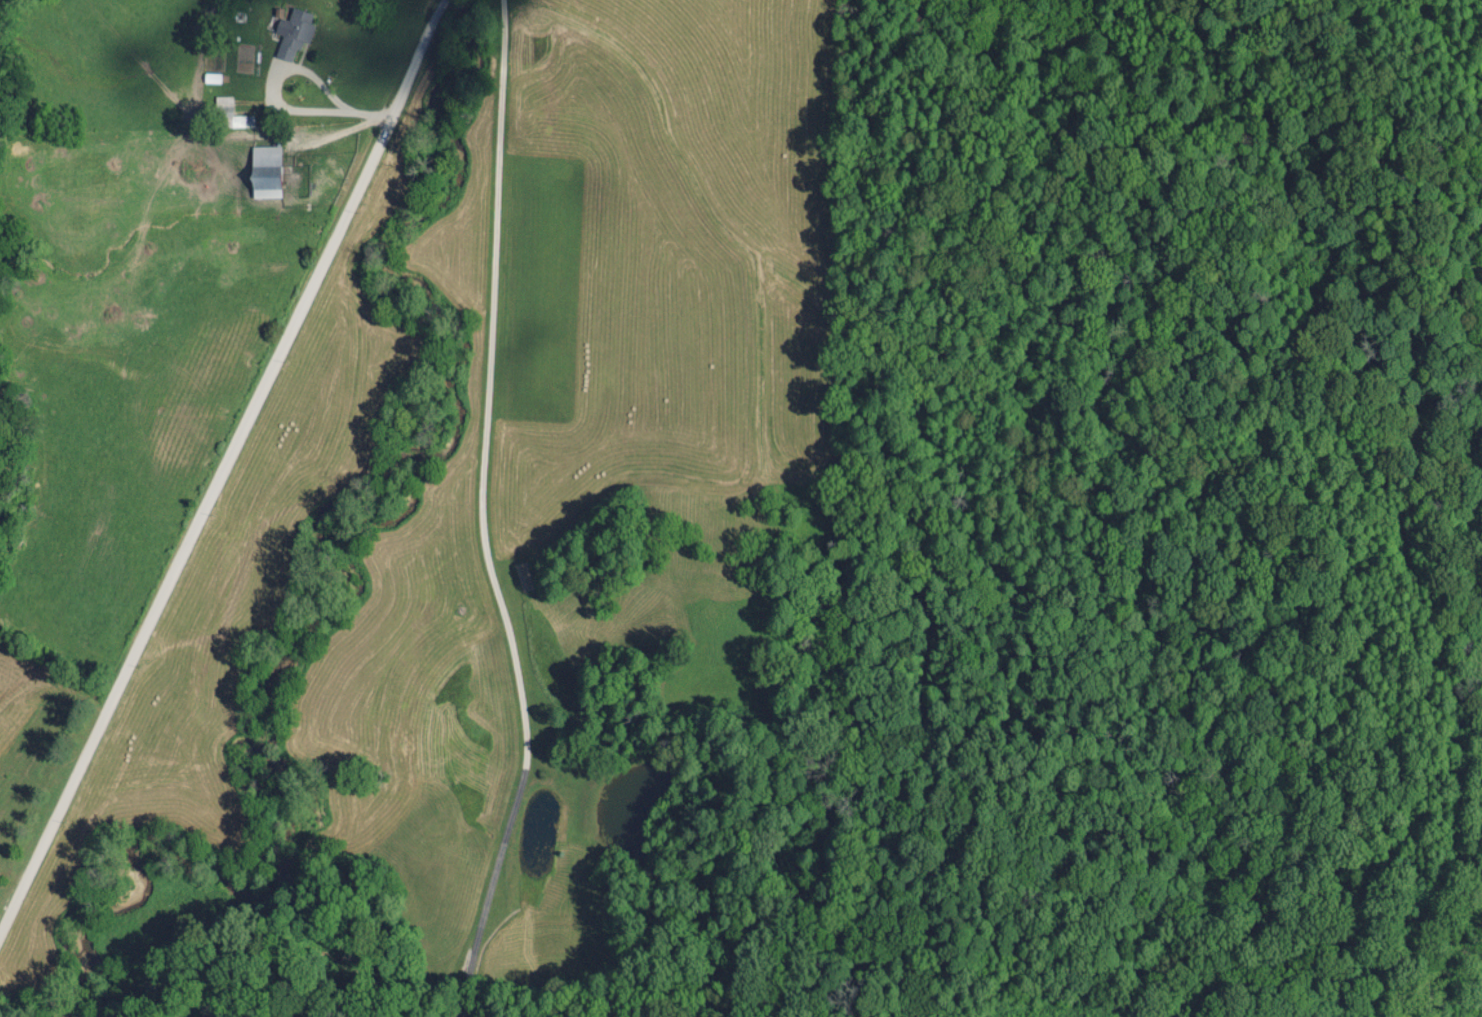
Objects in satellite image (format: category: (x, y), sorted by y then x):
building: (293, 32)
building: (232, 114)
building: (265, 170)
road: (218, 466)
road: (487, 516)

